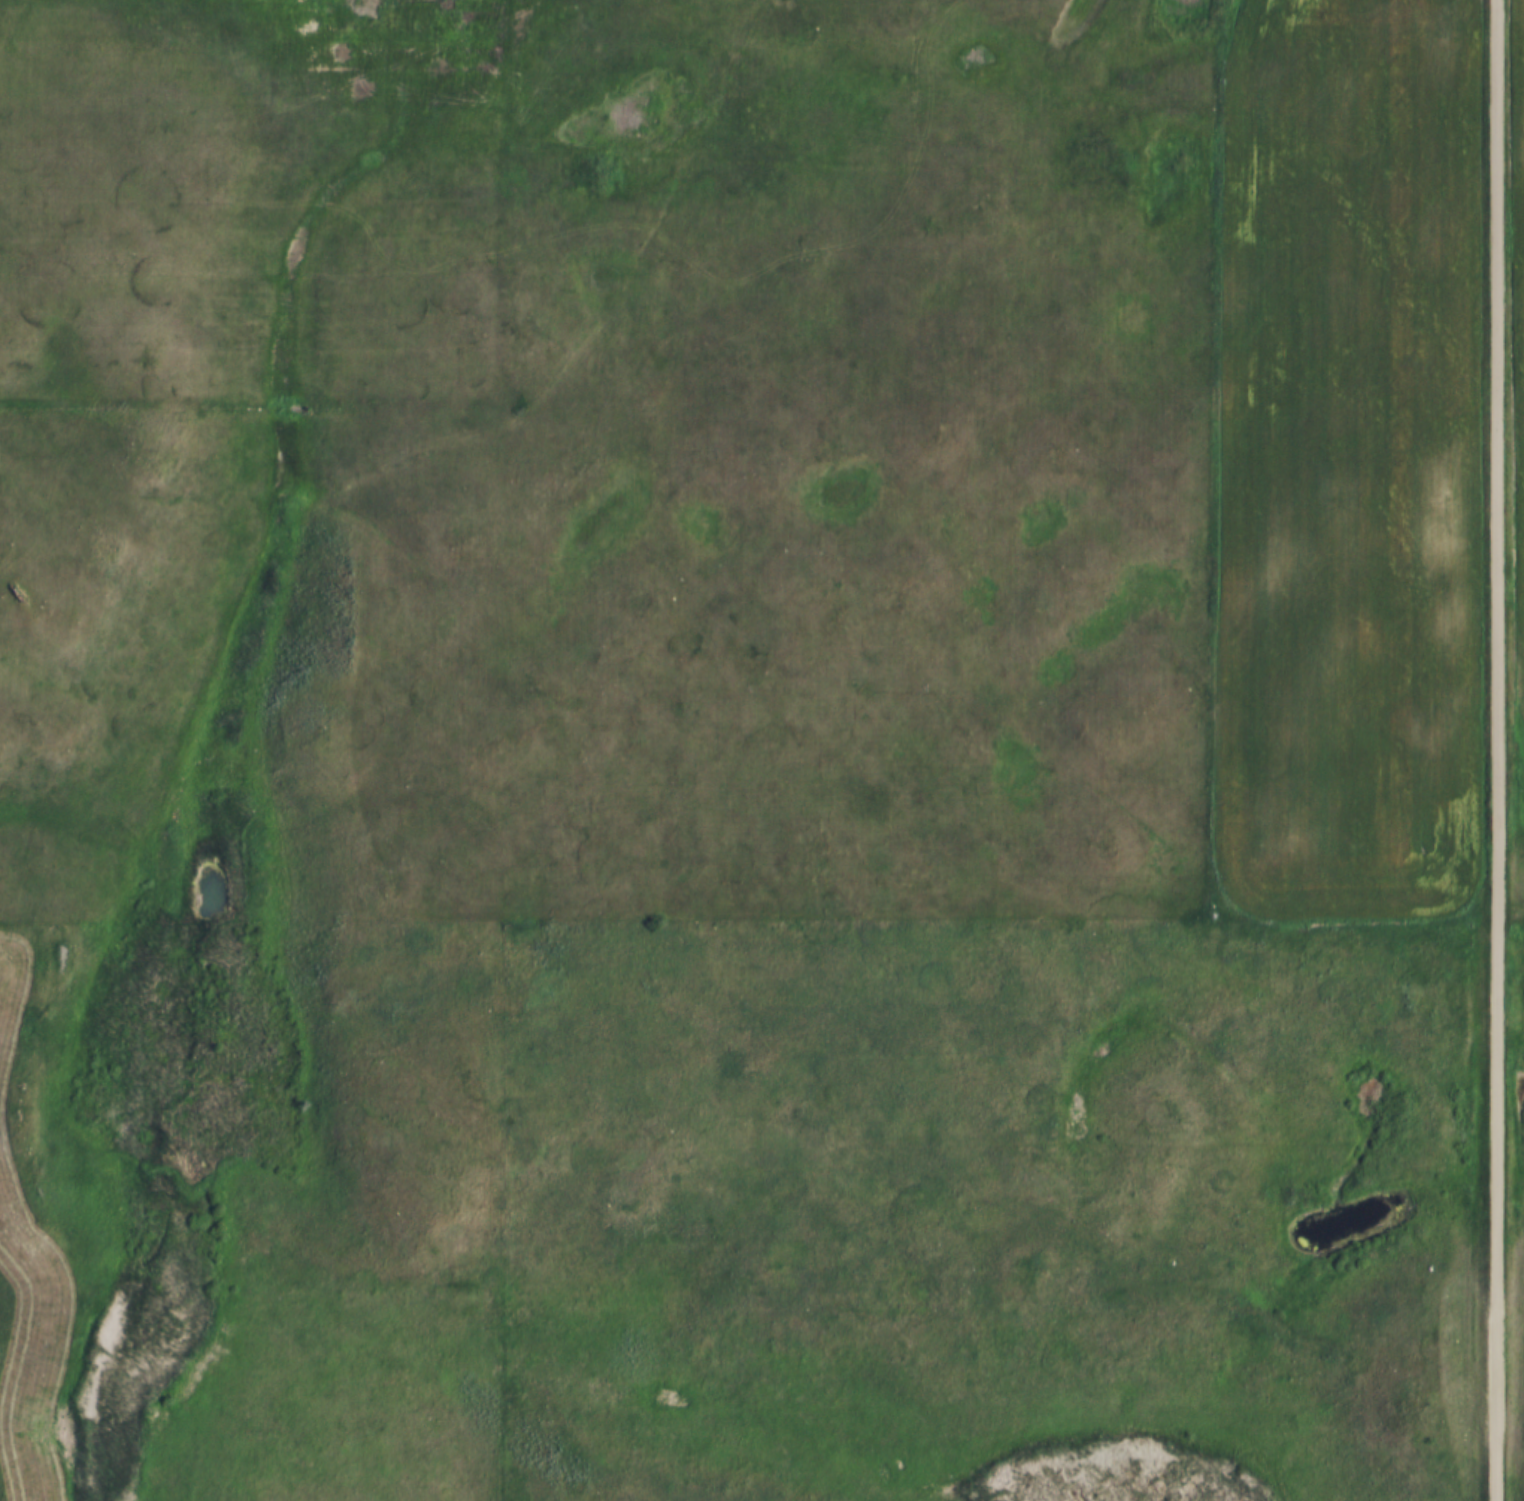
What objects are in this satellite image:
road: (1495, 750)

